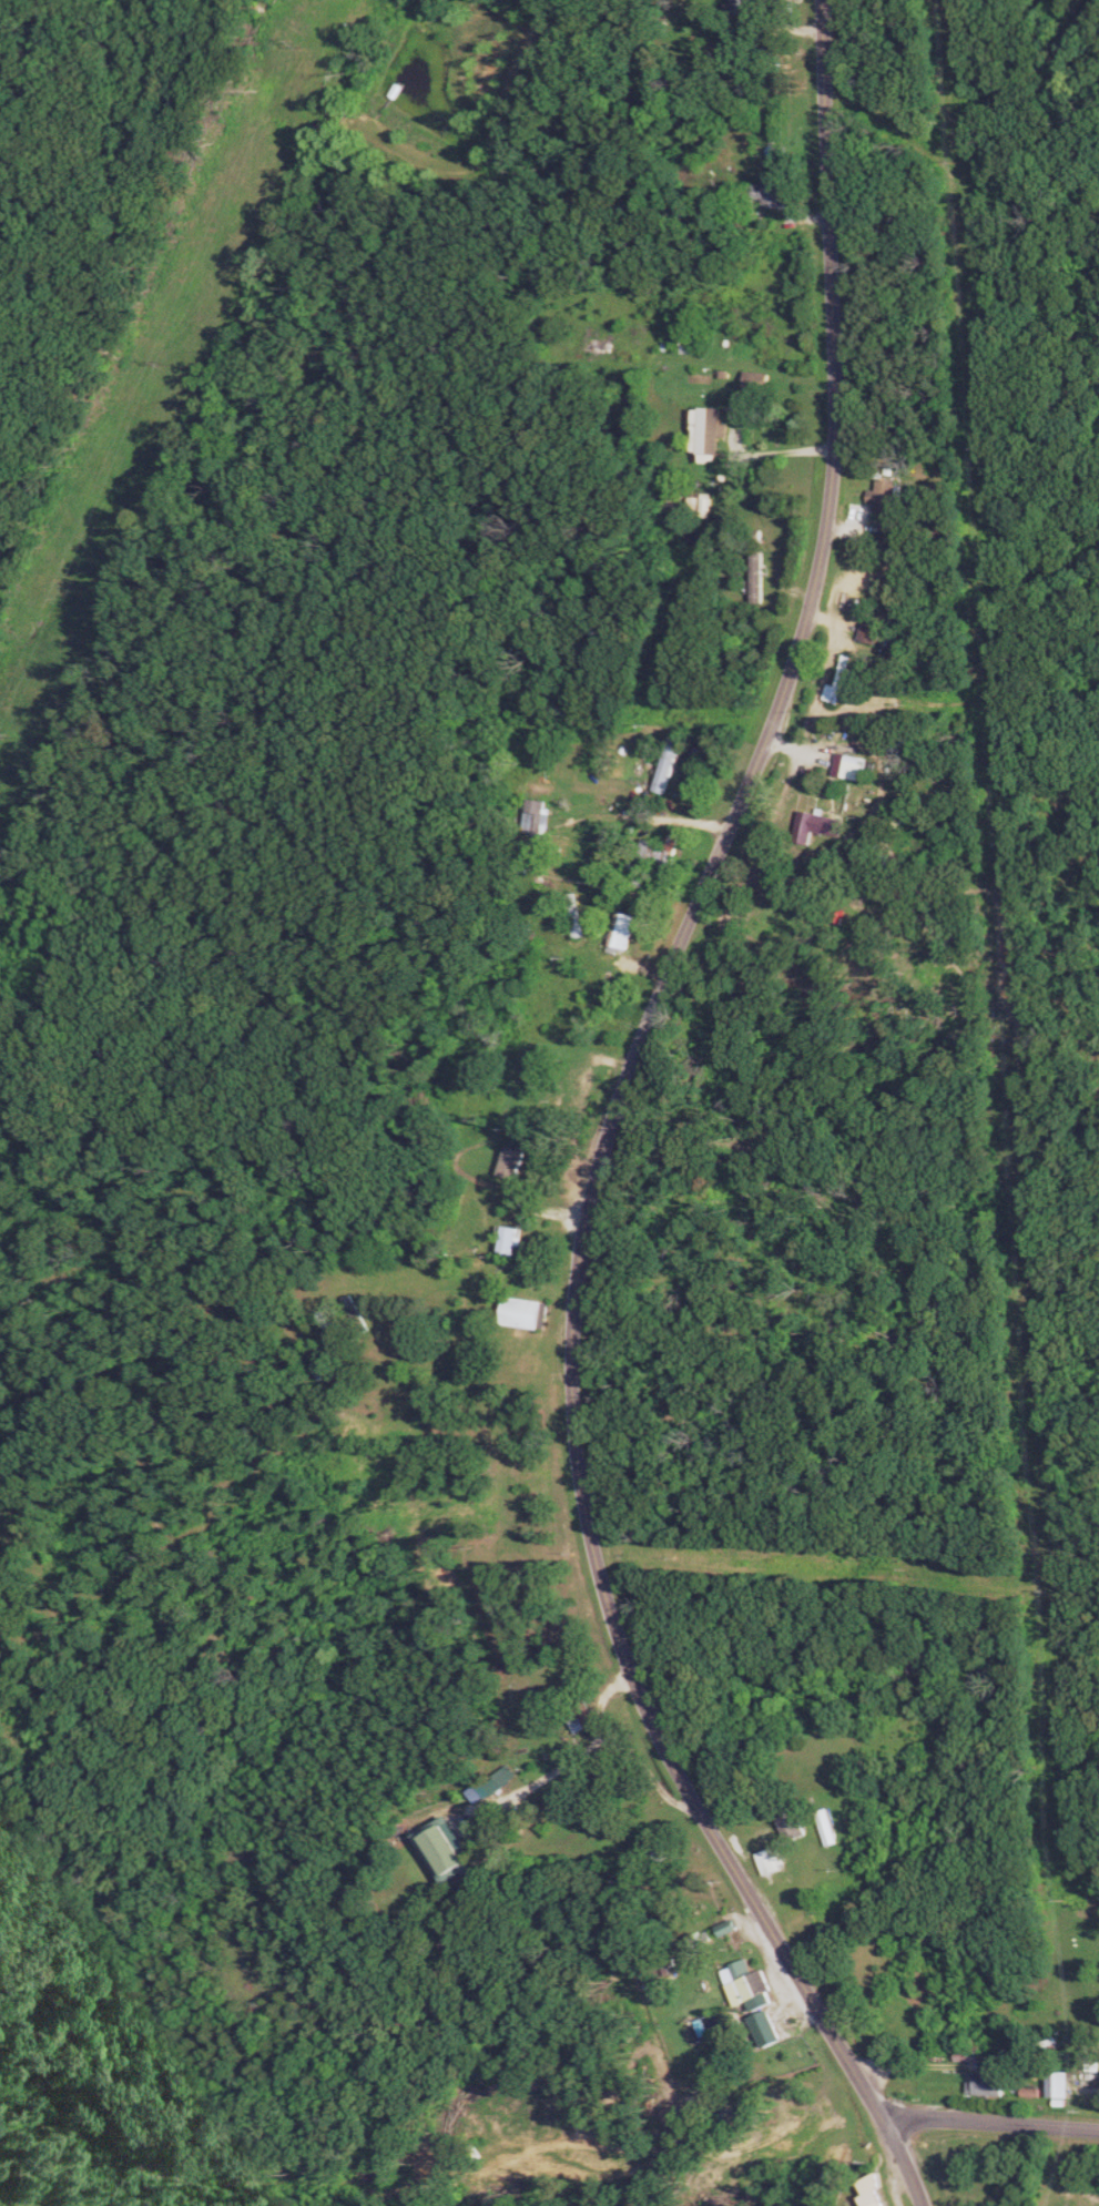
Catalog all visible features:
building: (744, 8)
building: (777, 192)
building: (762, 382)
building: (713, 434)
road: (791, 451)
building: (887, 497)
building: (896, 533)
building: (759, 577)
building: (875, 630)
building: (843, 683)
building: (854, 766)
road: (675, 815)
building: (541, 816)
building: (815, 826)
building: (676, 848)
building: (581, 929)
building: (625, 932)
road: (614, 1126)
building: (513, 1162)
building: (512, 1240)
building: (530, 1313)
building: (796, 1827)
building: (832, 1829)
building: (449, 1851)
building: (731, 1928)
building: (749, 1983)
building: (970, 2053)
building: (993, 2084)
building: (1061, 2084)
road: (993, 2126)
building: (876, 2199)

